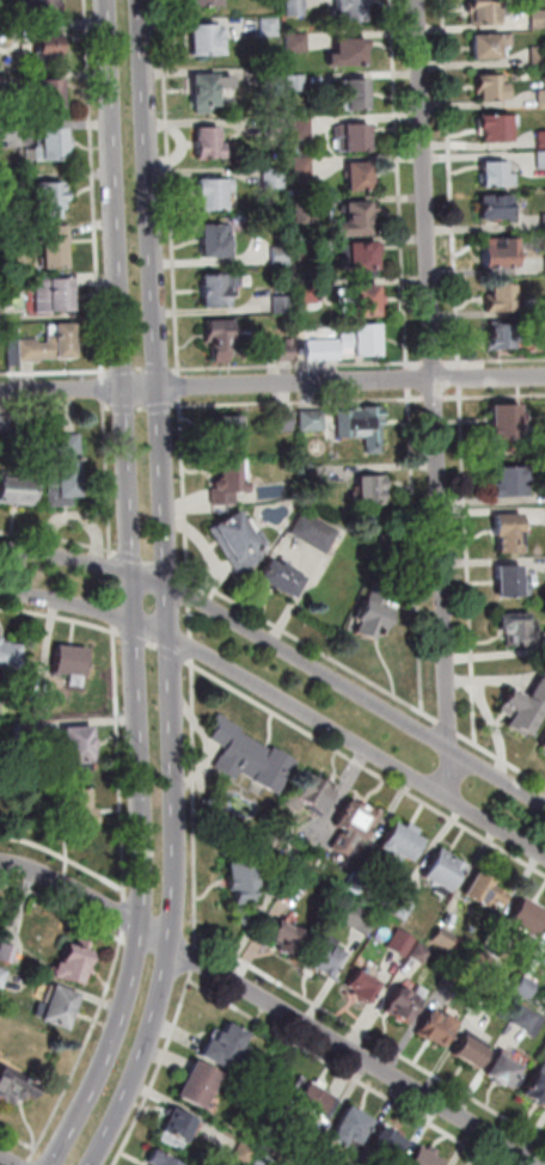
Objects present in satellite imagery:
building: (207, 2)
building: (45, 7)
building: (298, 7)
building: (353, 11)
building: (488, 11)
building: (539, 19)
building: (271, 27)
building: (208, 41)
building: (299, 42)
building: (50, 44)
building: (491, 45)
building: (350, 53)
building: (539, 55)
building: (276, 75)
building: (298, 82)
building: (494, 87)
building: (206, 92)
building: (53, 94)
building: (357, 96)
building: (543, 98)
building: (276, 125)
building: (305, 128)
building: (497, 128)
building: (355, 137)
building: (543, 140)
building: (214, 145)
building: (54, 146)
building: (541, 159)
building: (305, 168)
building: (497, 176)
building: (362, 177)
building: (275, 178)
road: (97, 188)
building: (0, 189)
building: (216, 194)
building: (53, 198)
building: (497, 207)
building: (306, 211)
building: (360, 219)
road: (457, 221)
building: (218, 241)
building: (56, 246)
building: (308, 251)
building: (502, 253)
building: (282, 256)
building: (362, 256)
building: (220, 289)
building: (311, 293)
building: (56, 296)
building: (502, 300)
building: (362, 301)
building: (283, 305)
building: (508, 333)
building: (221, 338)
building: (365, 339)
building: (50, 345)
building: (288, 350)
building: (325, 351)
building: (14, 352)
road: (457, 362)
road: (416, 363)
road: (436, 363)
road: (293, 366)
road: (146, 369)
road: (182, 372)
road: (55, 373)
road: (463, 378)
road: (411, 379)
road: (182, 385)
road: (272, 385)
road: (105, 390)
road: (495, 396)
road: (436, 397)
road: (414, 398)
road: (437, 398)
road: (109, 405)
road: (183, 405)
road: (142, 409)
building: (308, 418)
building: (6, 423)
building: (507, 424)
building: (363, 428)
building: (226, 434)
building: (69, 447)
building: (69, 478)
building: (55, 482)
building: (231, 483)
building: (513, 484)
building: (17, 491)
building: (369, 491)
road: (106, 529)
building: (316, 533)
building: (509, 535)
building: (241, 541)
road: (111, 550)
road: (108, 552)
road: (148, 558)
road: (110, 565)
road: (185, 574)
building: (282, 580)
building: (509, 582)
road: (111, 589)
road: (167, 589)
road: (137, 591)
street lamp: (38, 601)
road: (472, 603)
street lamp: (178, 612)
road: (115, 613)
building: (375, 613)
road: (191, 617)
road: (111, 626)
building: (519, 630)
road: (115, 631)
road: (134, 637)
road: (152, 645)
road: (283, 649)
road: (173, 654)
building: (10, 656)
building: (69, 662)
road: (422, 663)
road: (282, 698)
building: (42, 703)
building: (526, 711)
road: (433, 718)
road: (451, 728)
building: (25, 731)
road: (470, 740)
building: (543, 743)
building: (80, 747)
building: (544, 748)
building: (250, 758)
road: (367, 766)
road: (116, 772)
building: (317, 795)
building: (79, 810)
building: (355, 828)
building: (404, 845)
building: (299, 847)
building: (283, 870)
building: (445, 873)
building: (244, 881)
building: (302, 882)
building: (360, 882)
building: (485, 893)
road: (122, 897)
building: (403, 909)
road: (124, 916)
building: (359, 919)
building: (527, 919)
road: (122, 936)
building: (445, 938)
building: (289, 940)
building: (403, 943)
building: (544, 944)
building: (7, 950)
building: (423, 955)
building: (485, 961)
building: (72, 962)
building: (327, 962)
road: (253, 965)
building: (2, 975)
building: (457, 976)
building: (527, 987)
building: (365, 988)
building: (490, 994)
road: (100, 1000)
building: (57, 1005)
building: (408, 1005)
road: (272, 1006)
building: (531, 1022)
building: (440, 1029)
building: (227, 1049)
road: (167, 1051)
building: (472, 1055)
road: (348, 1073)
building: (506, 1074)
building: (16, 1081)
building: (200, 1087)
building: (538, 1089)
building: (312, 1104)
building: (180, 1128)
building: (354, 1132)
building: (388, 1147)
road: (32, 1153)
building: (245, 1154)
building: (424, 1159)
road: (6, 1160)
building: (160, 1160)
building: (264, 1160)
road: (27, 1161)

